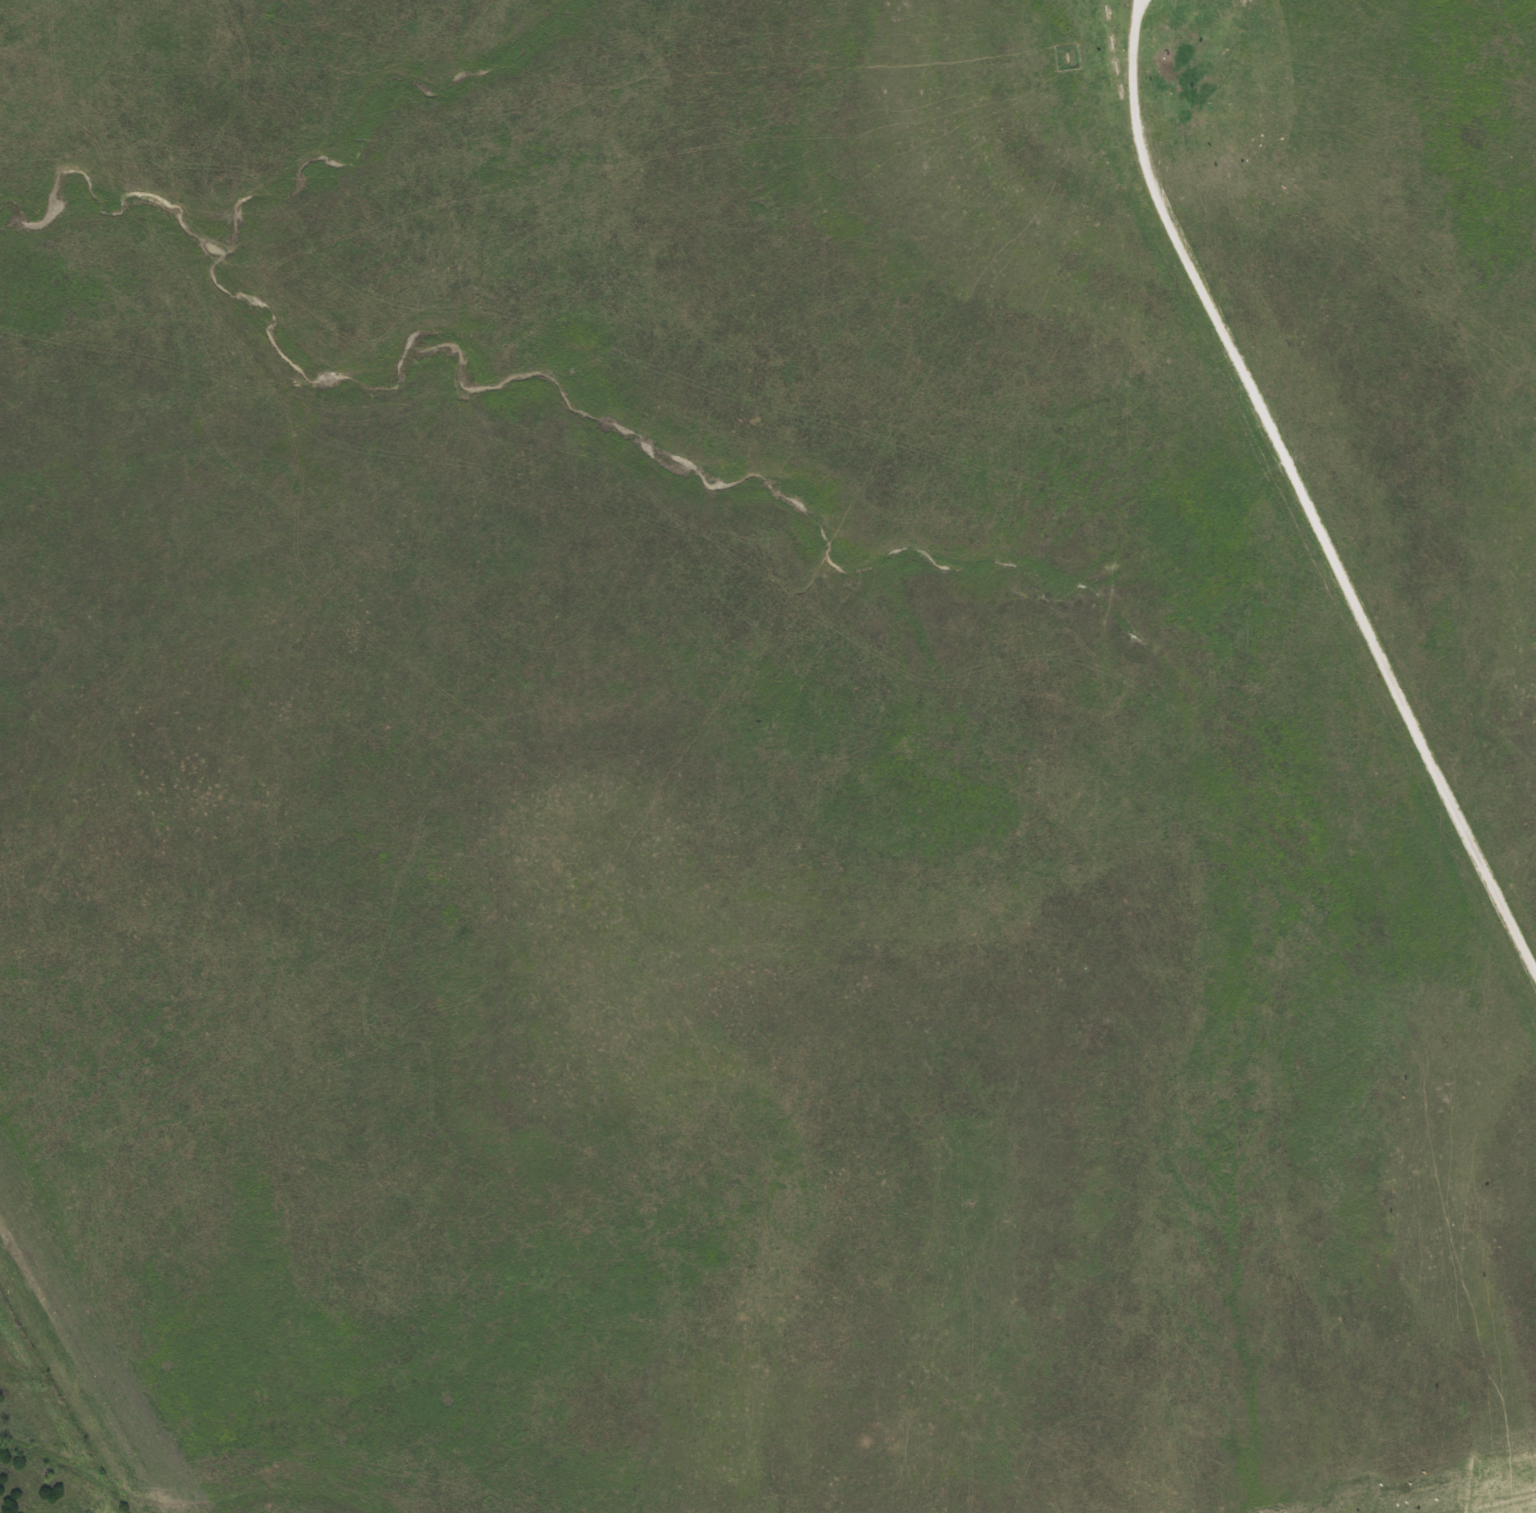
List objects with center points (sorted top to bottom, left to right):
road: (1298, 496)

